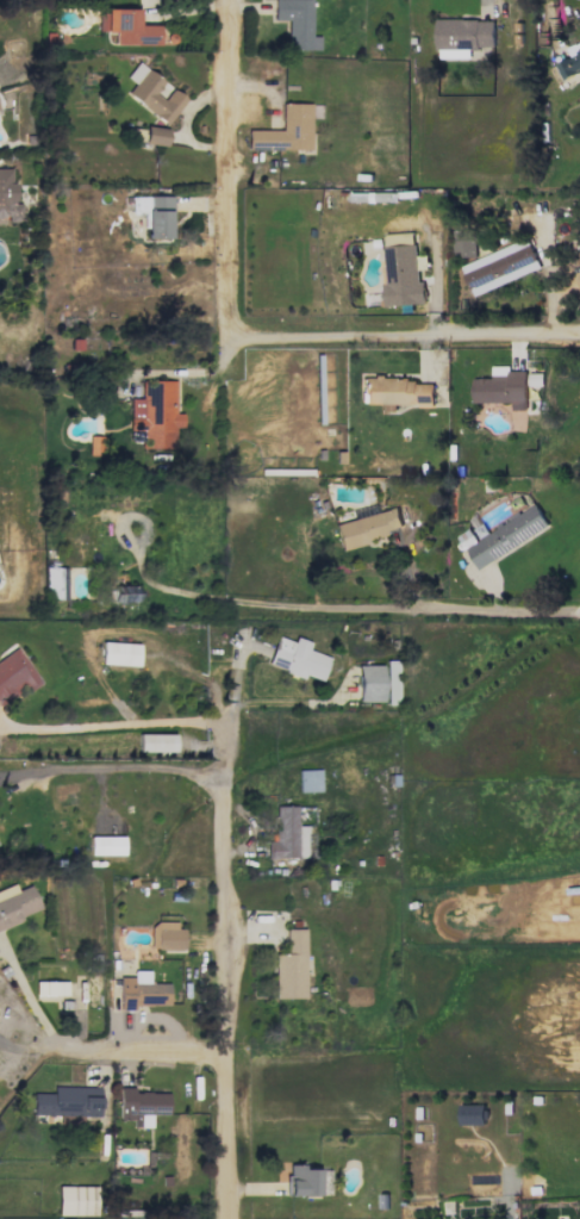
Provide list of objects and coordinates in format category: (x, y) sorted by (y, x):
building: (295, 24)
building: (126, 27)
building: (462, 36)
building: (570, 62)
building: (151, 94)
building: (285, 131)
building: (154, 135)
road: (233, 148)
building: (7, 197)
building: (154, 214)
building: (399, 238)
building: (463, 243)
building: (499, 266)
building: (403, 276)
road: (387, 343)
building: (501, 387)
building: (397, 392)
building: (154, 415)
building: (518, 421)
building: (94, 444)
building: (366, 528)
building: (505, 536)
building: (55, 583)
building: (125, 593)
road: (386, 611)
building: (119, 653)
building: (298, 658)
building: (14, 676)
building: (391, 682)
building: (369, 683)
road: (114, 724)
building: (155, 742)
road: (116, 766)
building: (308, 780)
building: (287, 835)
building: (105, 845)
building: (15, 904)
road: (223, 922)
building: (166, 935)
building: (291, 966)
building: (50, 988)
building: (141, 991)
road: (30, 996)
road: (126, 1052)
building: (64, 1102)
building: (141, 1106)
building: (470, 1114)
building: (303, 1181)
building: (76, 1200)

